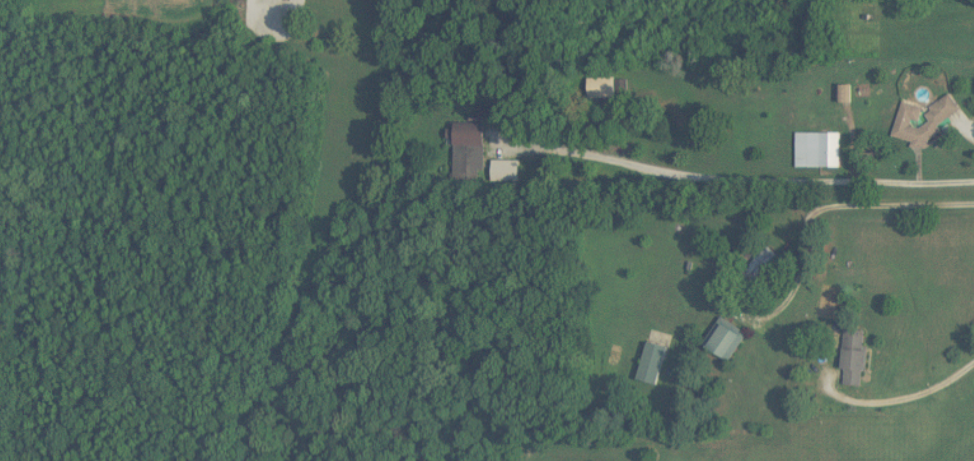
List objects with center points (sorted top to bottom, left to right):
building: (907, 121)
road: (927, 128)
building: (470, 143)
building: (817, 150)
road: (725, 180)
road: (826, 206)
building: (761, 265)
building: (726, 340)
building: (854, 358)
building: (653, 363)
road: (903, 398)

